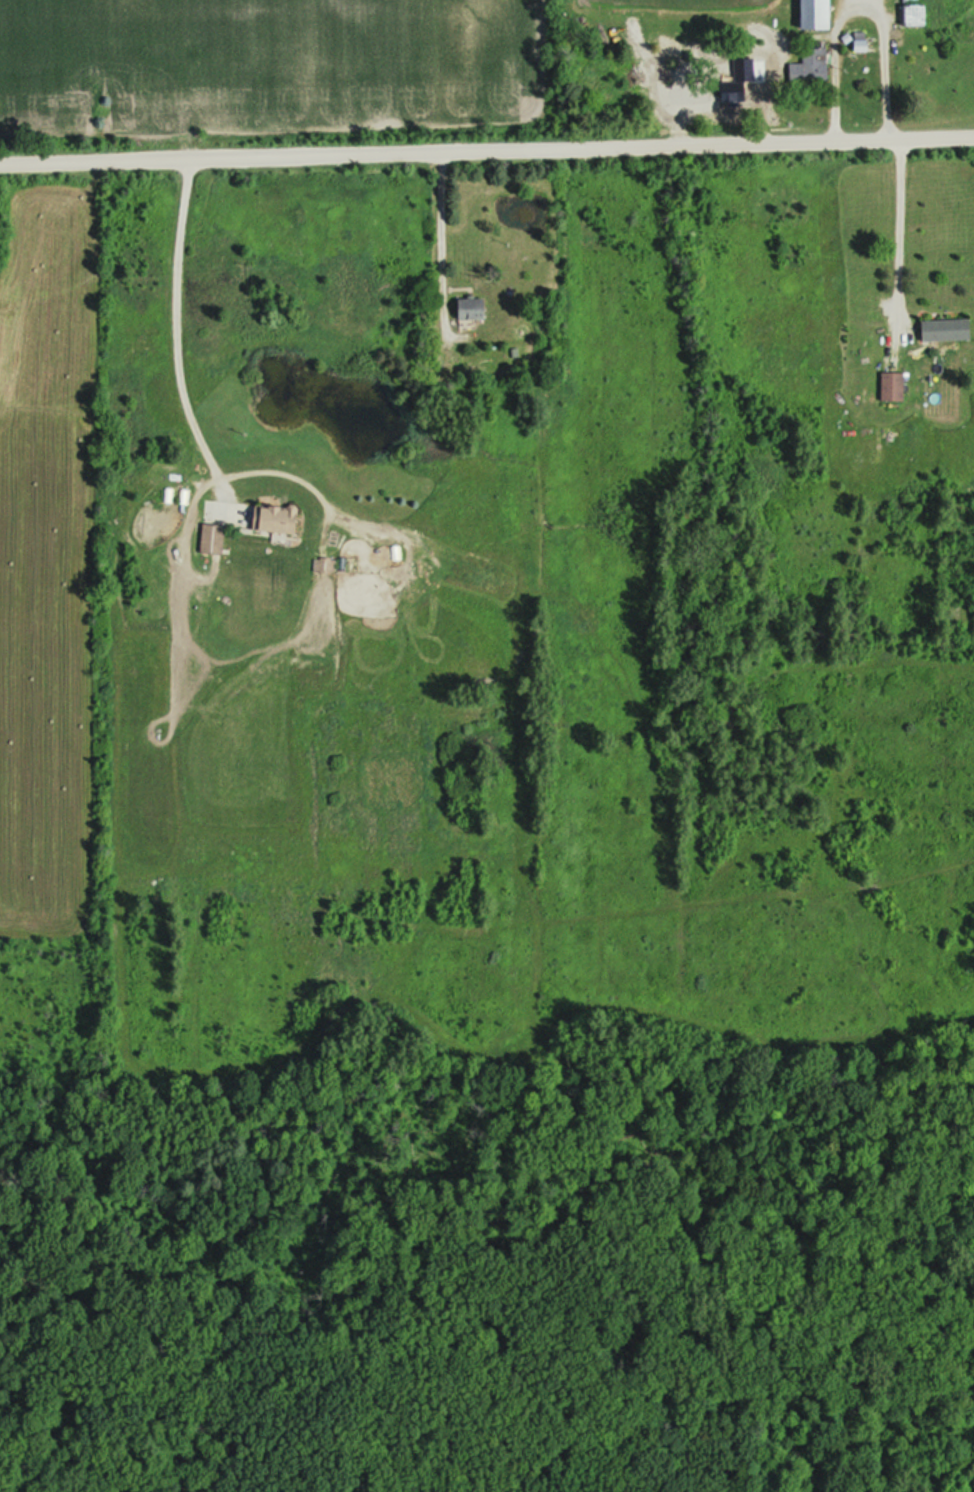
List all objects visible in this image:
road: (851, 0)
building: (911, 1)
building: (818, 15)
building: (915, 16)
building: (812, 68)
building: (921, 72)
building: (737, 93)
road: (487, 152)
road: (890, 233)
road: (446, 244)
building: (474, 310)
road: (183, 326)
building: (947, 331)
building: (893, 388)
building: (278, 520)
building: (214, 541)

